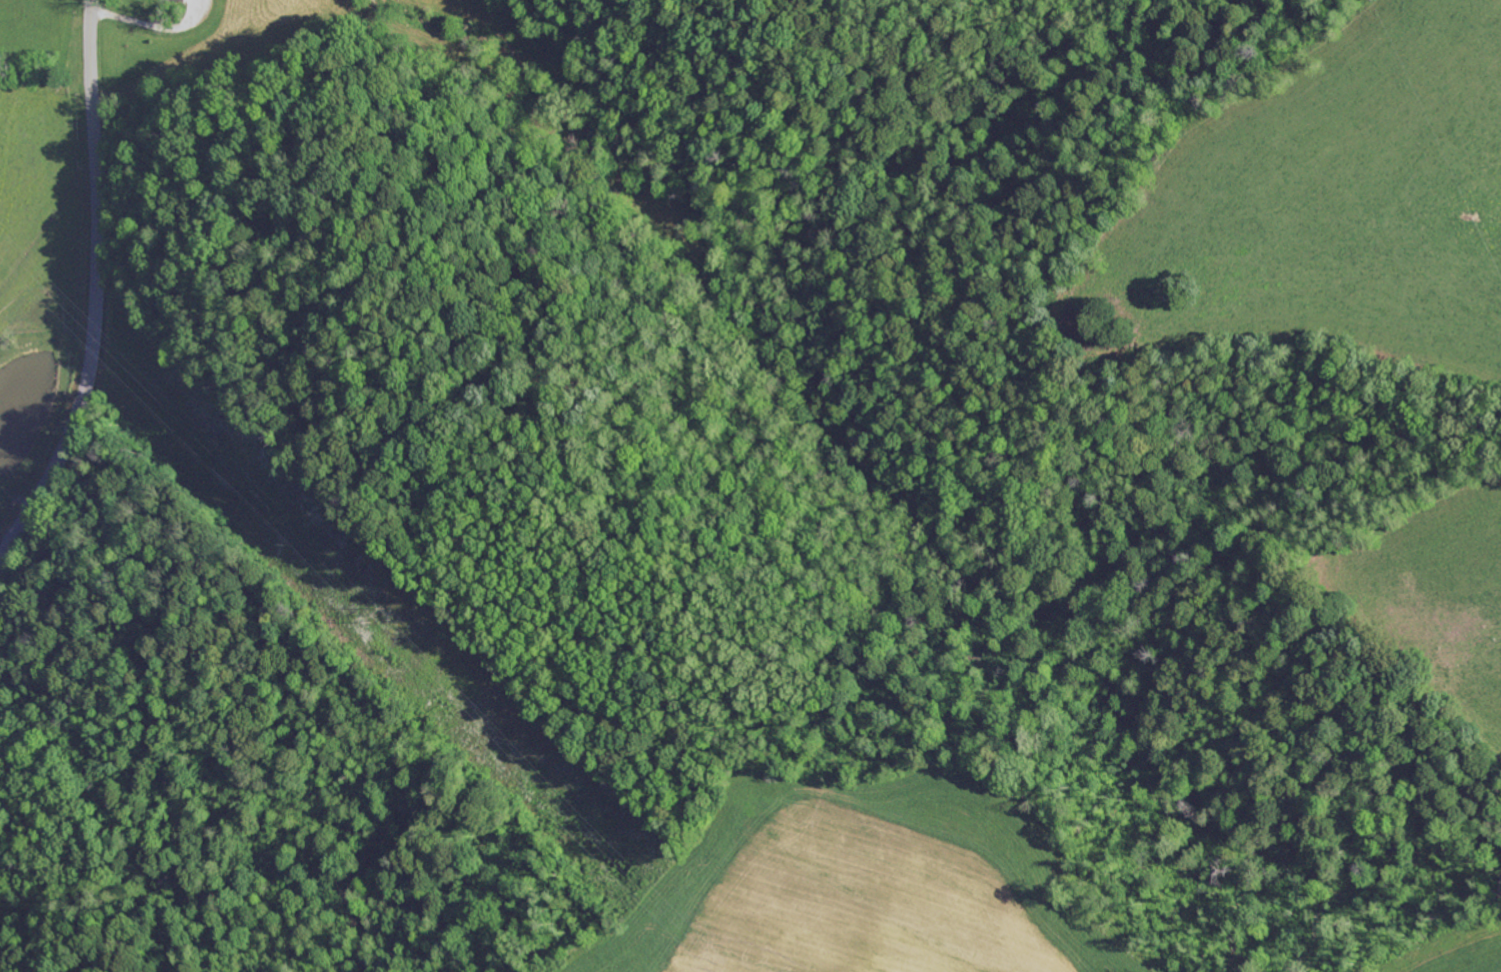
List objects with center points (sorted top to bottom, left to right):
building: (182, 0)
road: (95, 284)
power tower: (375, 614)

